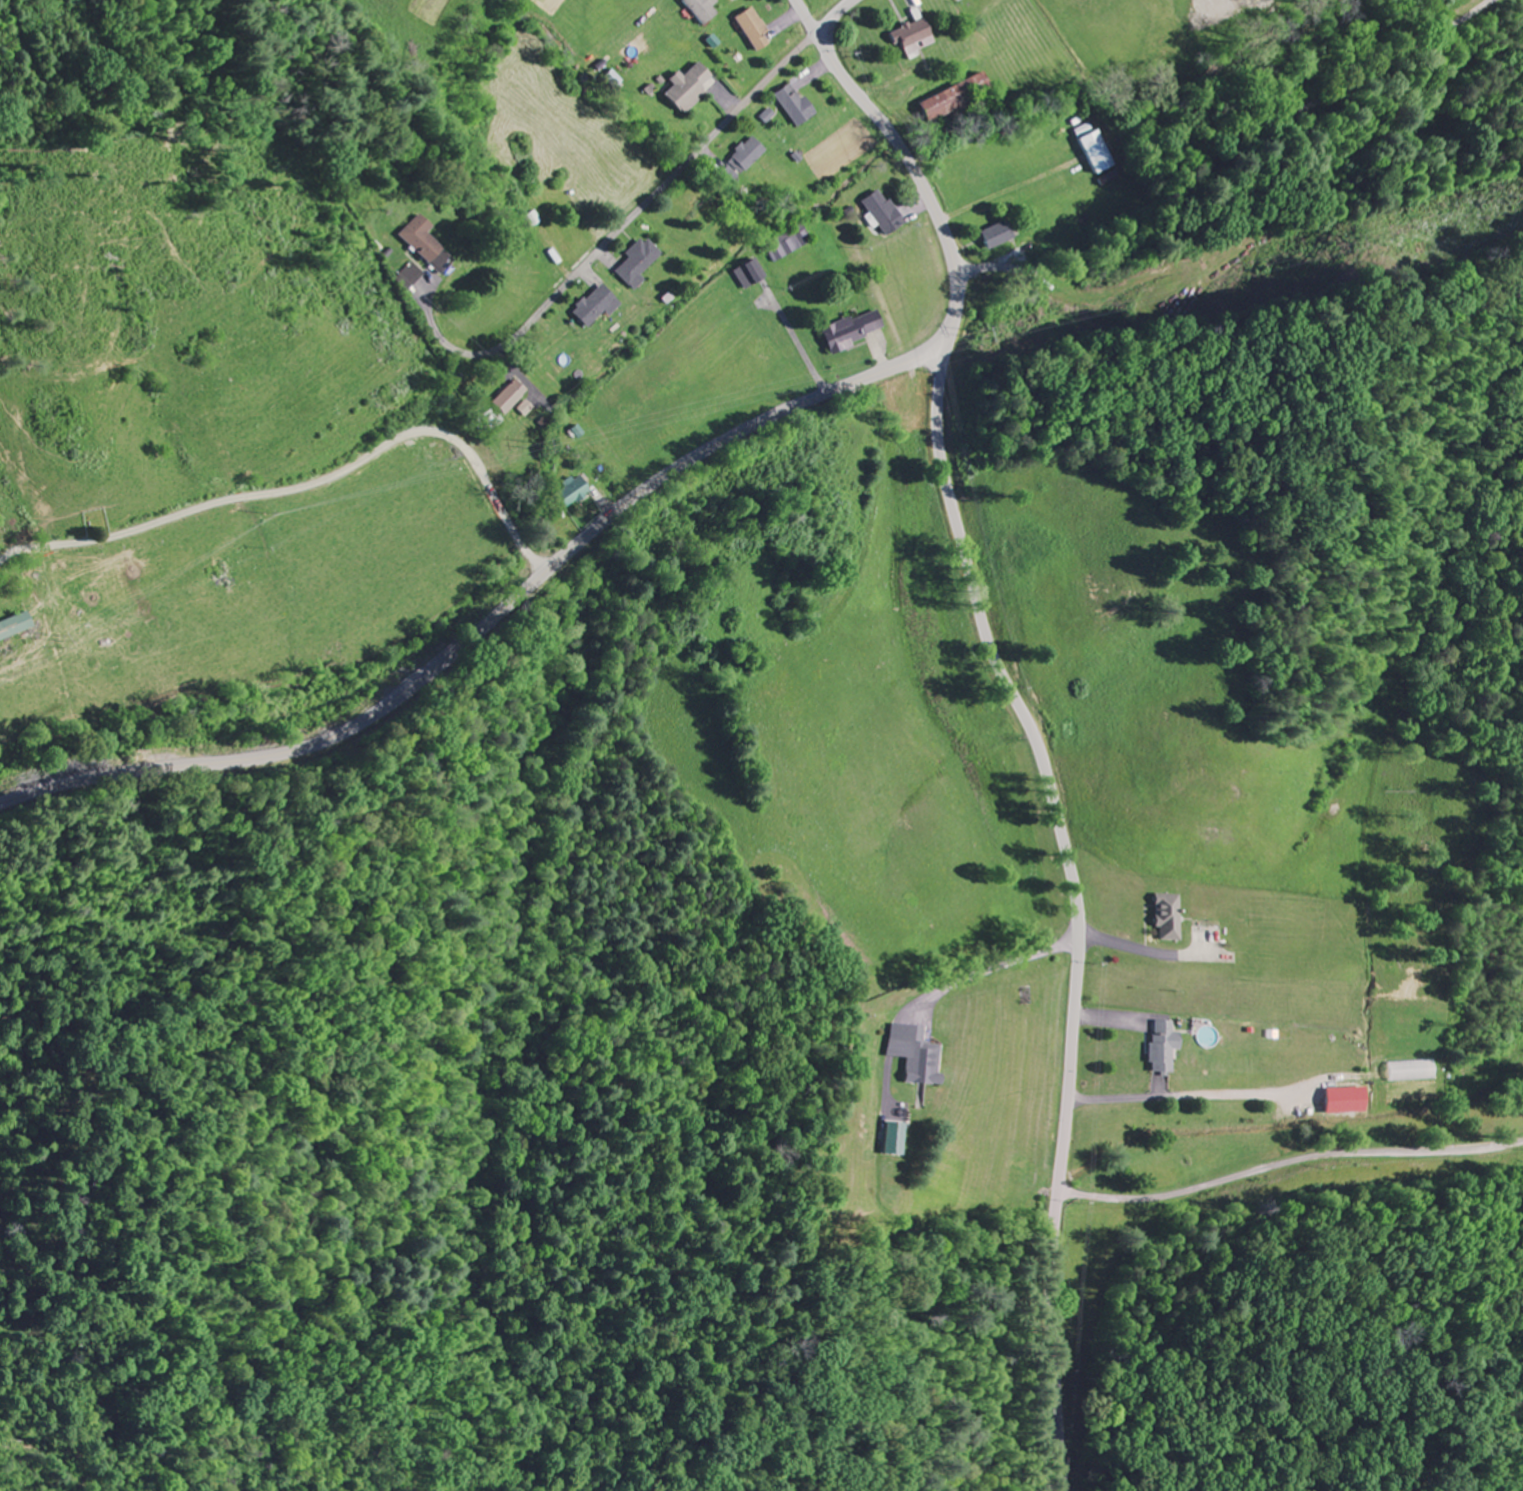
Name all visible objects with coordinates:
building: (705, 10)
road: (805, 17)
road: (834, 17)
building: (757, 30)
building: (916, 38)
building: (694, 88)
building: (943, 105)
building: (798, 106)
road: (1221, 147)
building: (1098, 154)
building: (750, 157)
road: (648, 203)
building: (886, 214)
building: (1000, 238)
building: (426, 245)
building: (641, 264)
building: (412, 275)
building: (754, 276)
building: (599, 307)
building: (857, 332)
road: (439, 338)
building: (513, 398)
building: (527, 409)
building: (577, 491)
road: (624, 506)
building: (20, 628)
road: (1078, 905)
building: (1176, 917)
building: (1207, 1038)
building: (1166, 1047)
building: (1416, 1071)
building: (1351, 1101)
building: (896, 1139)

